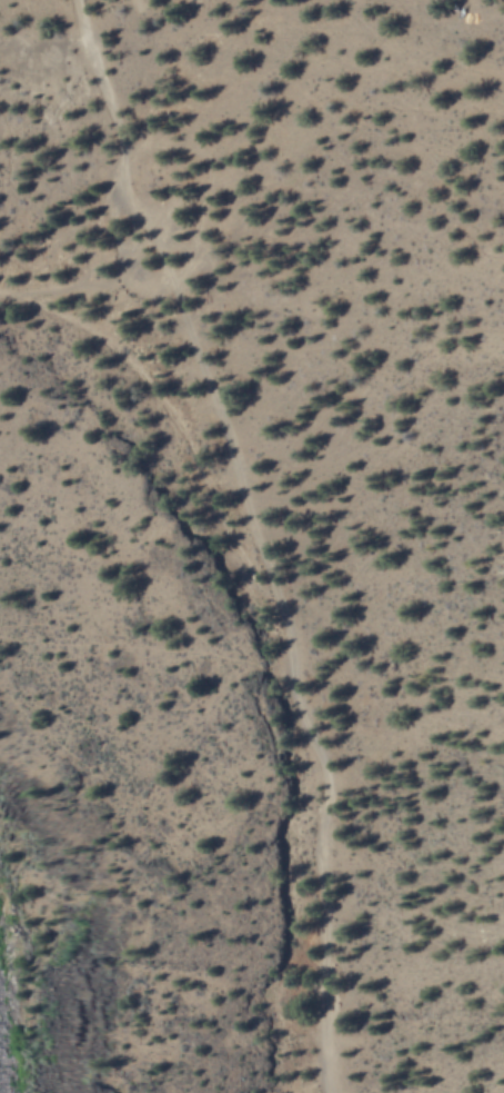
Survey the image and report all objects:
road: (159, 261)
road: (288, 632)

